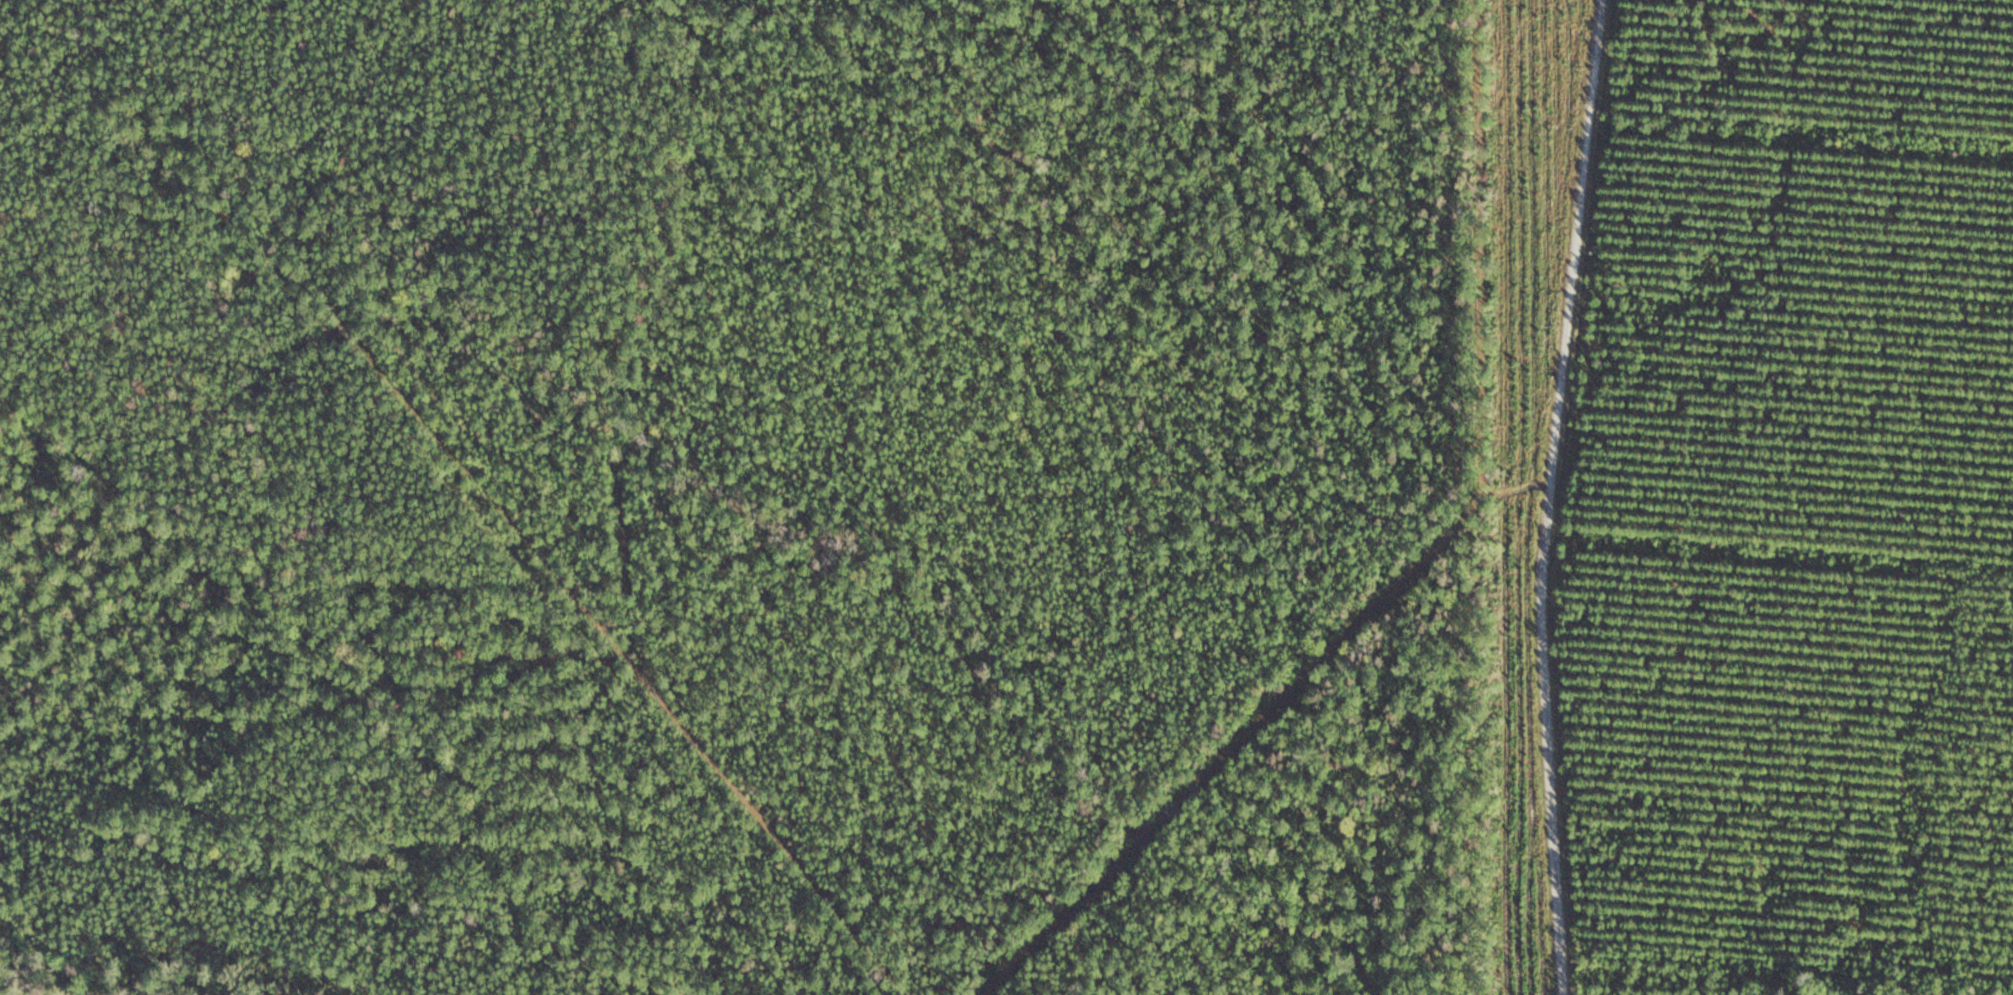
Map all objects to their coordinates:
road: (1538, 495)

